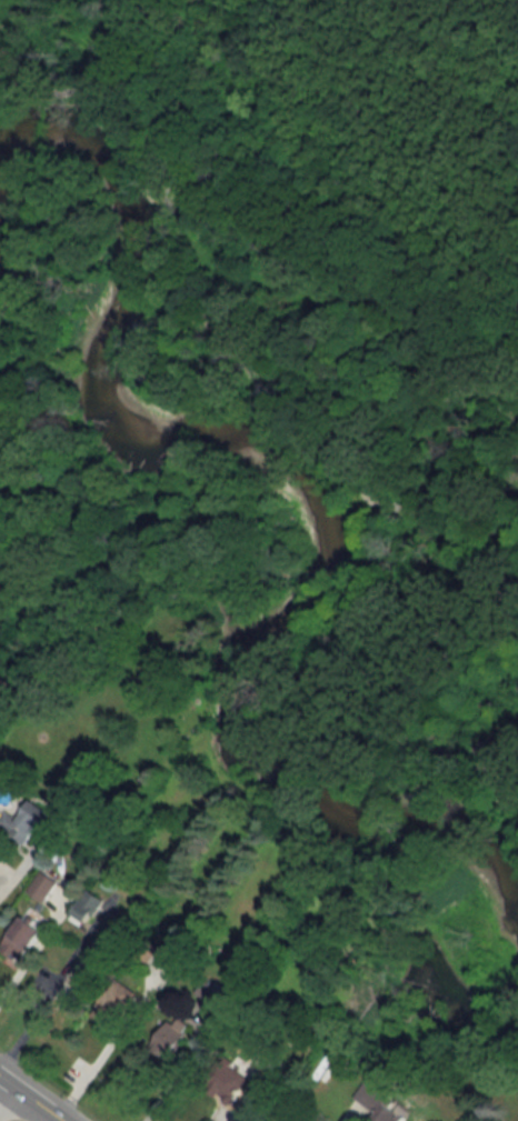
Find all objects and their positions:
road: (146, 2)
road: (446, 92)
park: (338, 329)
road: (219, 334)
river: (312, 578)
road: (311, 735)
building: (29, 822)
road: (4, 880)
building: (41, 885)
building: (84, 908)
park: (499, 934)
building: (21, 938)
building: (180, 949)
building: (88, 975)
road: (14, 980)
building: (116, 1003)
building: (171, 1038)
road: (96, 1061)
building: (327, 1064)
building: (240, 1080)
road: (170, 1088)
road: (7, 1100)
road: (27, 1101)
building: (378, 1103)
road: (235, 1113)

